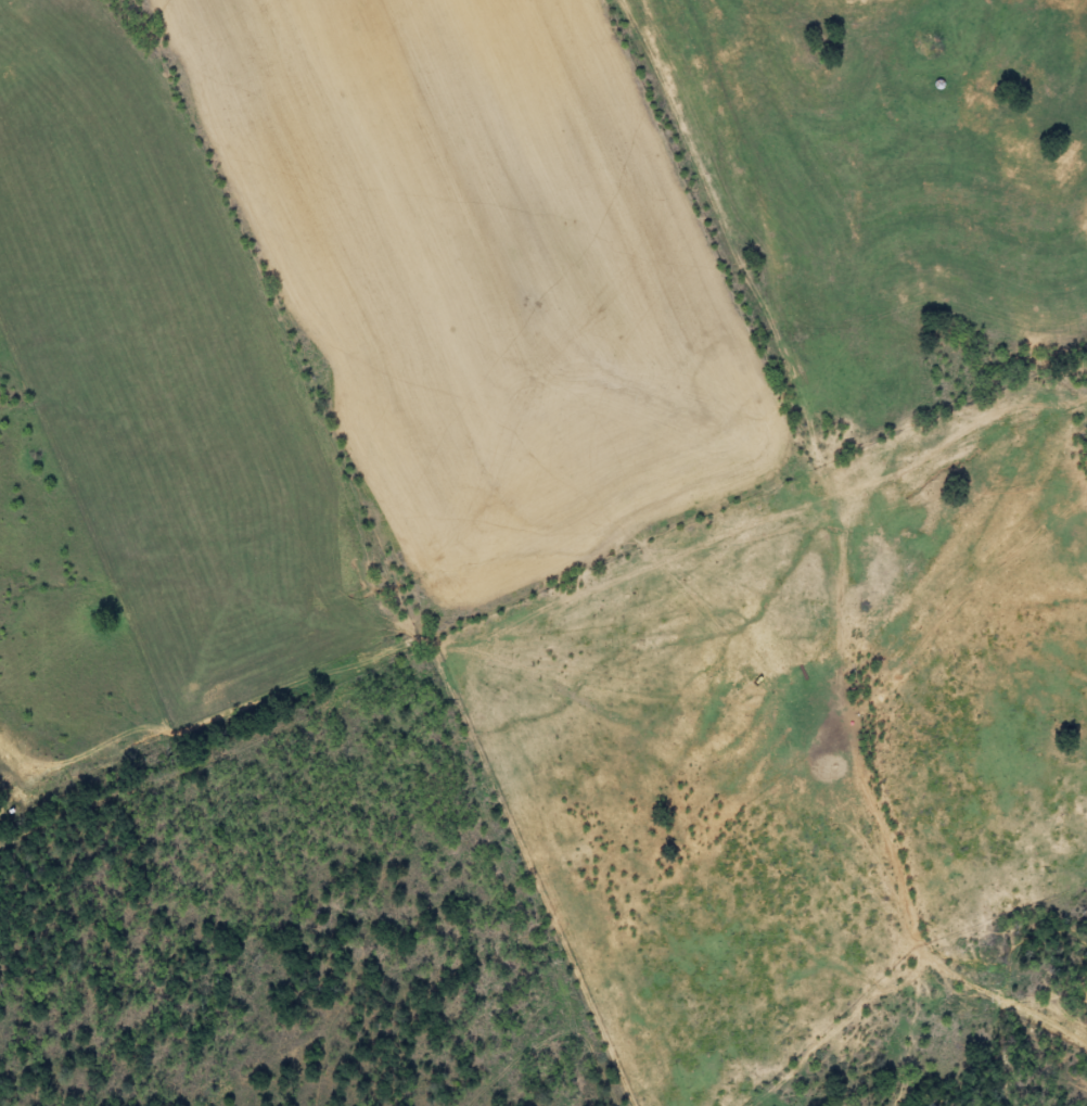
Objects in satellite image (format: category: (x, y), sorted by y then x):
road: (919, 522)

